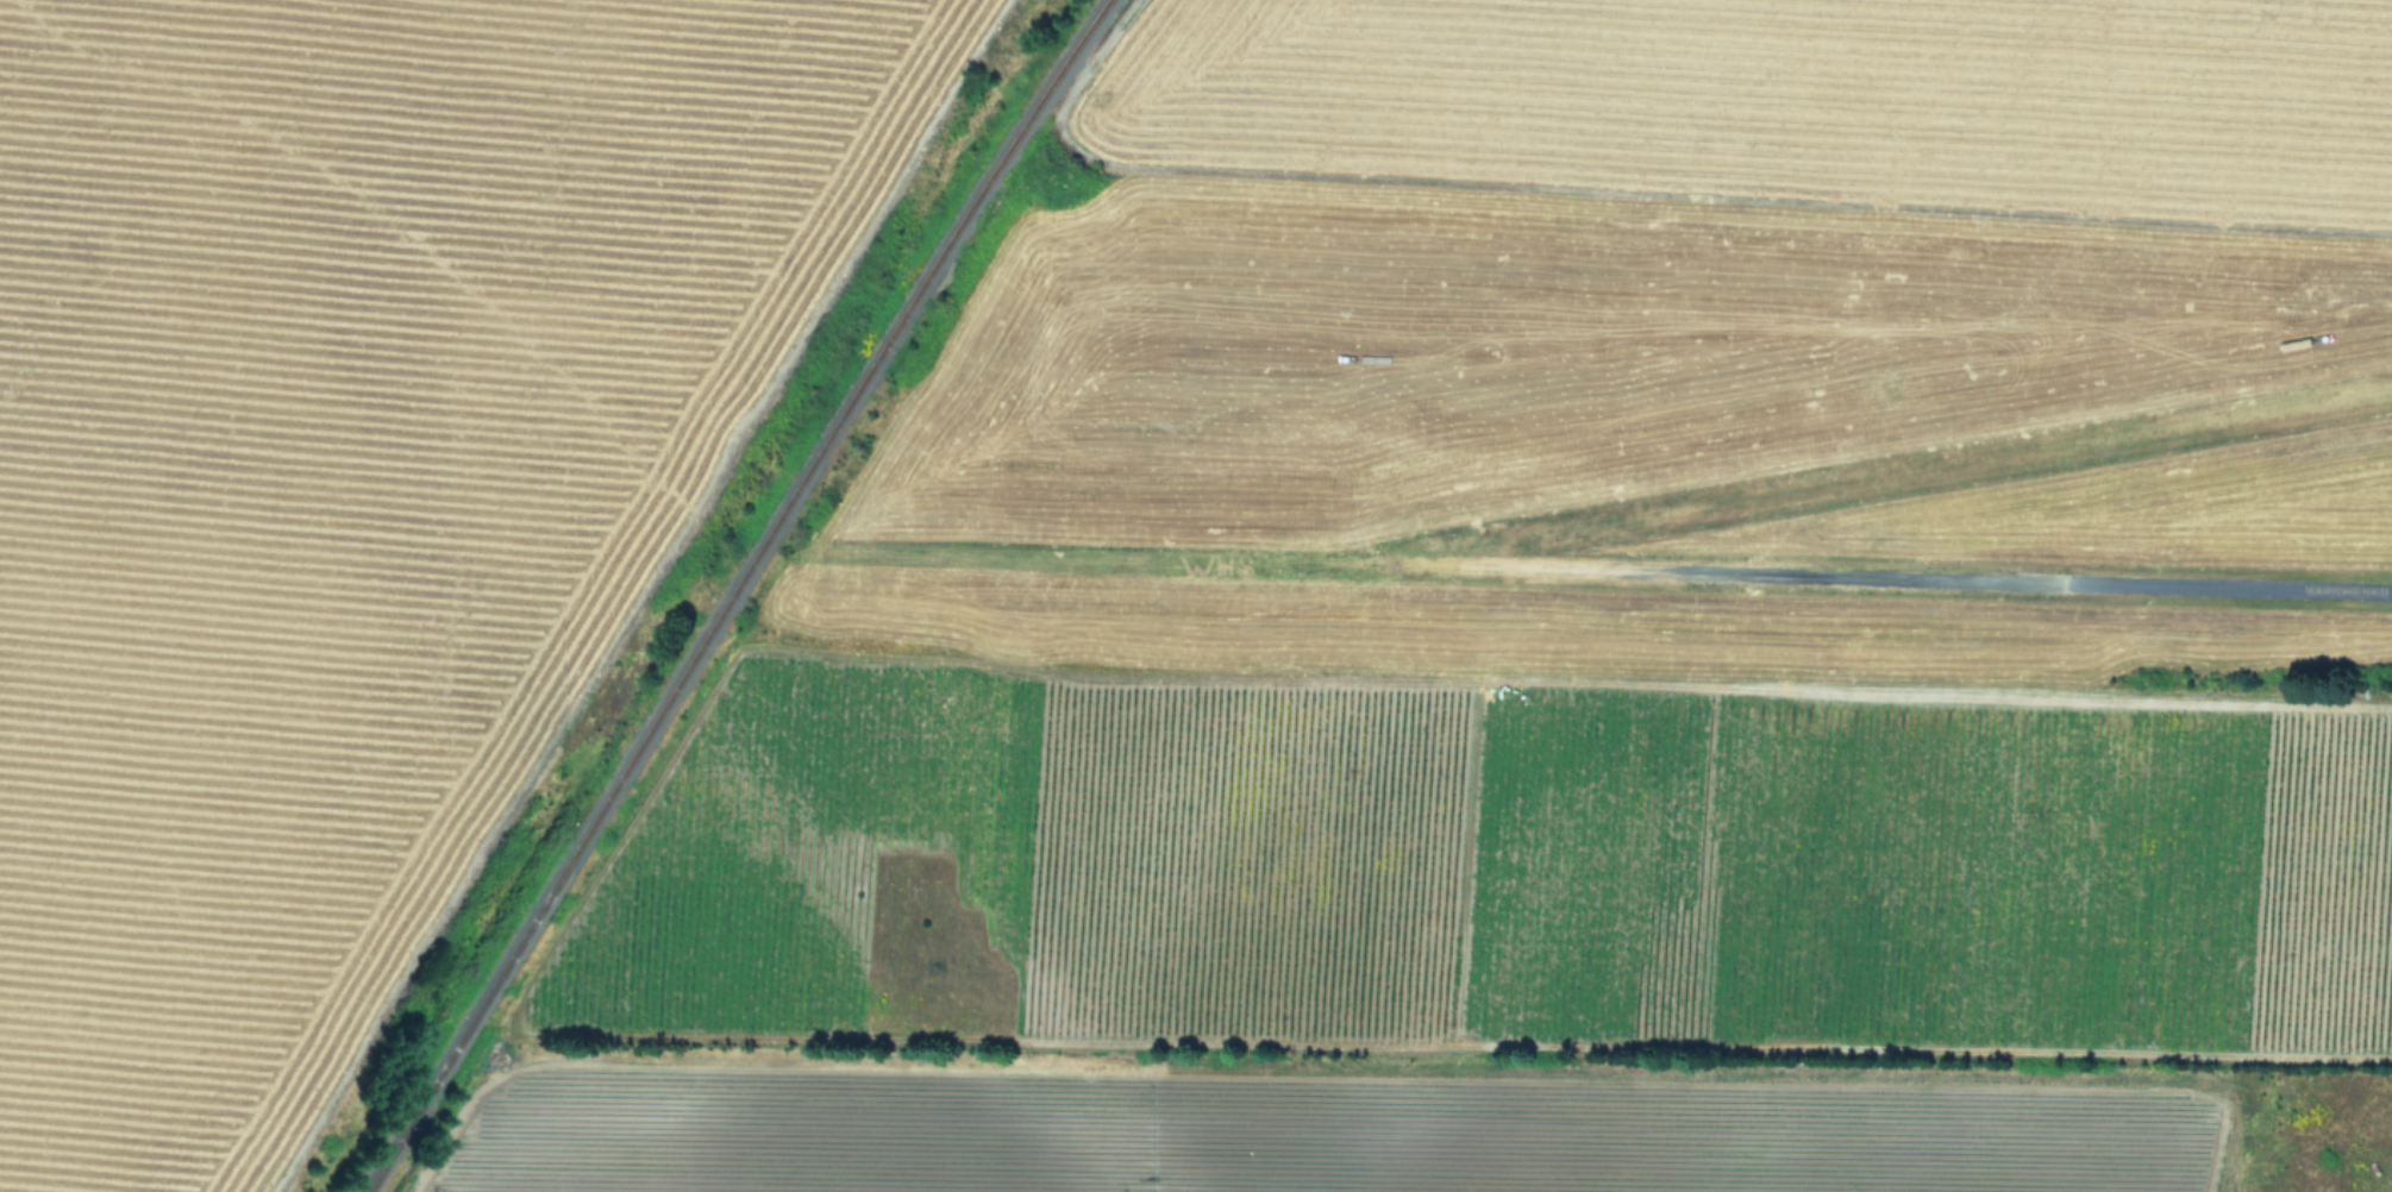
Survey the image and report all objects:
crop: (355, 479)
airport: (1906, 557)
airport runway: (2230, 585)
railway: (734, 591)
crop: (1019, 607)

